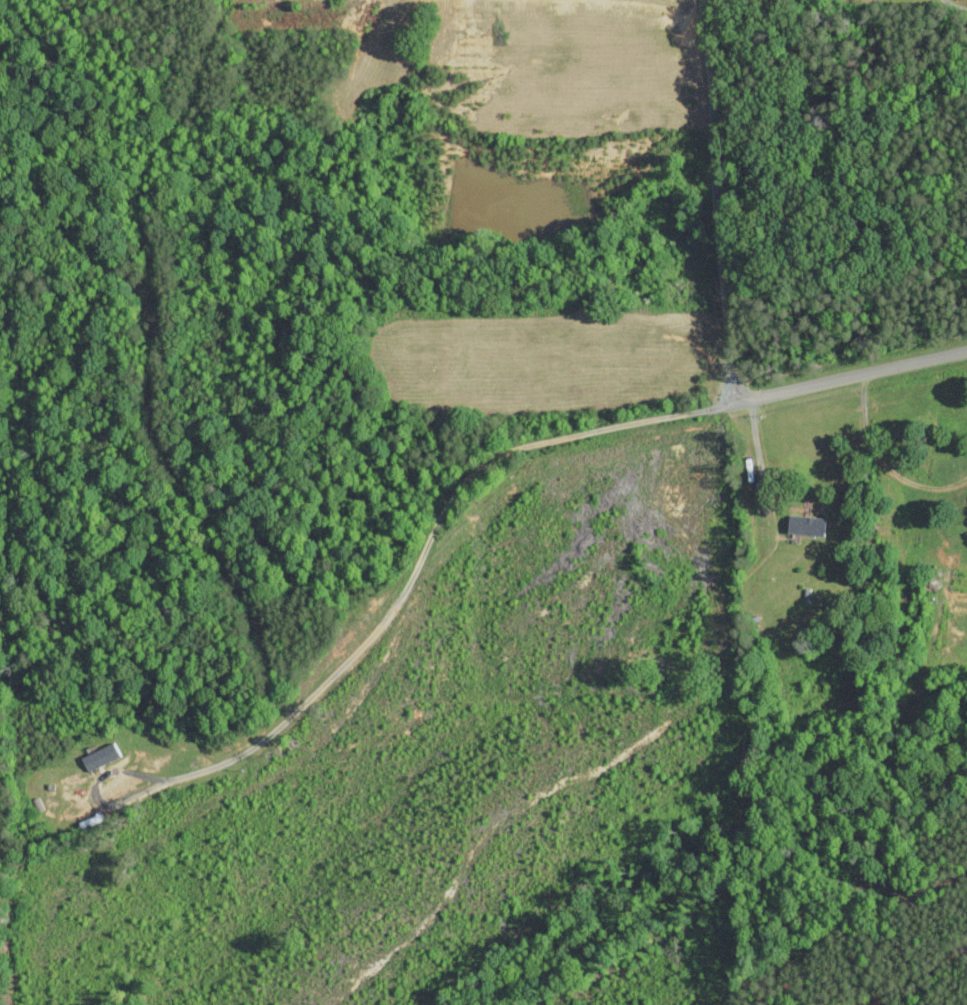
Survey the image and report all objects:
road: (713, 202)
road: (566, 440)
road: (757, 456)
road: (880, 464)
building: (804, 523)
road: (150, 783)

